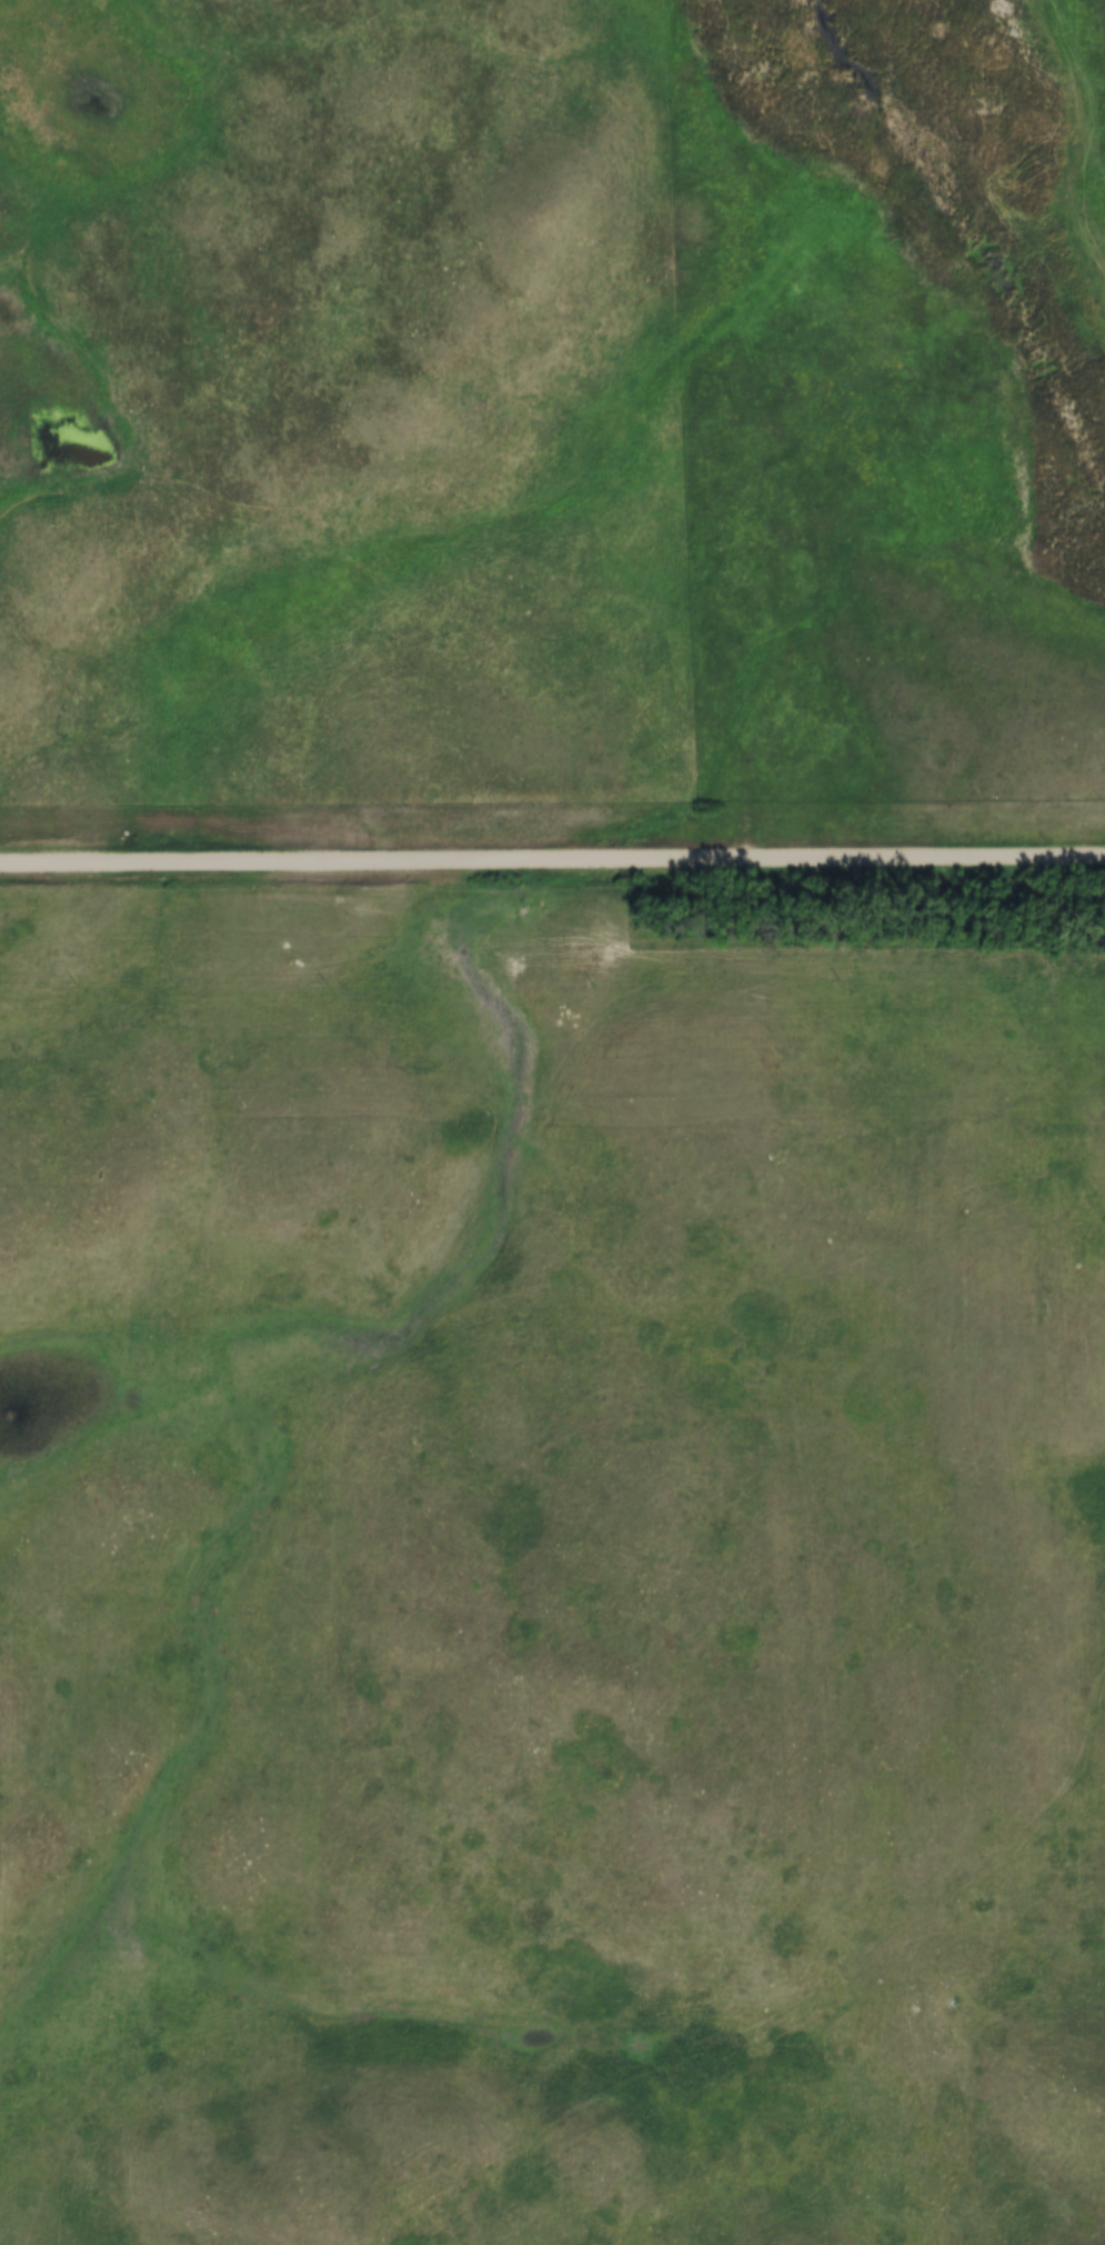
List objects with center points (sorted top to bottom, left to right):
road: (552, 861)

